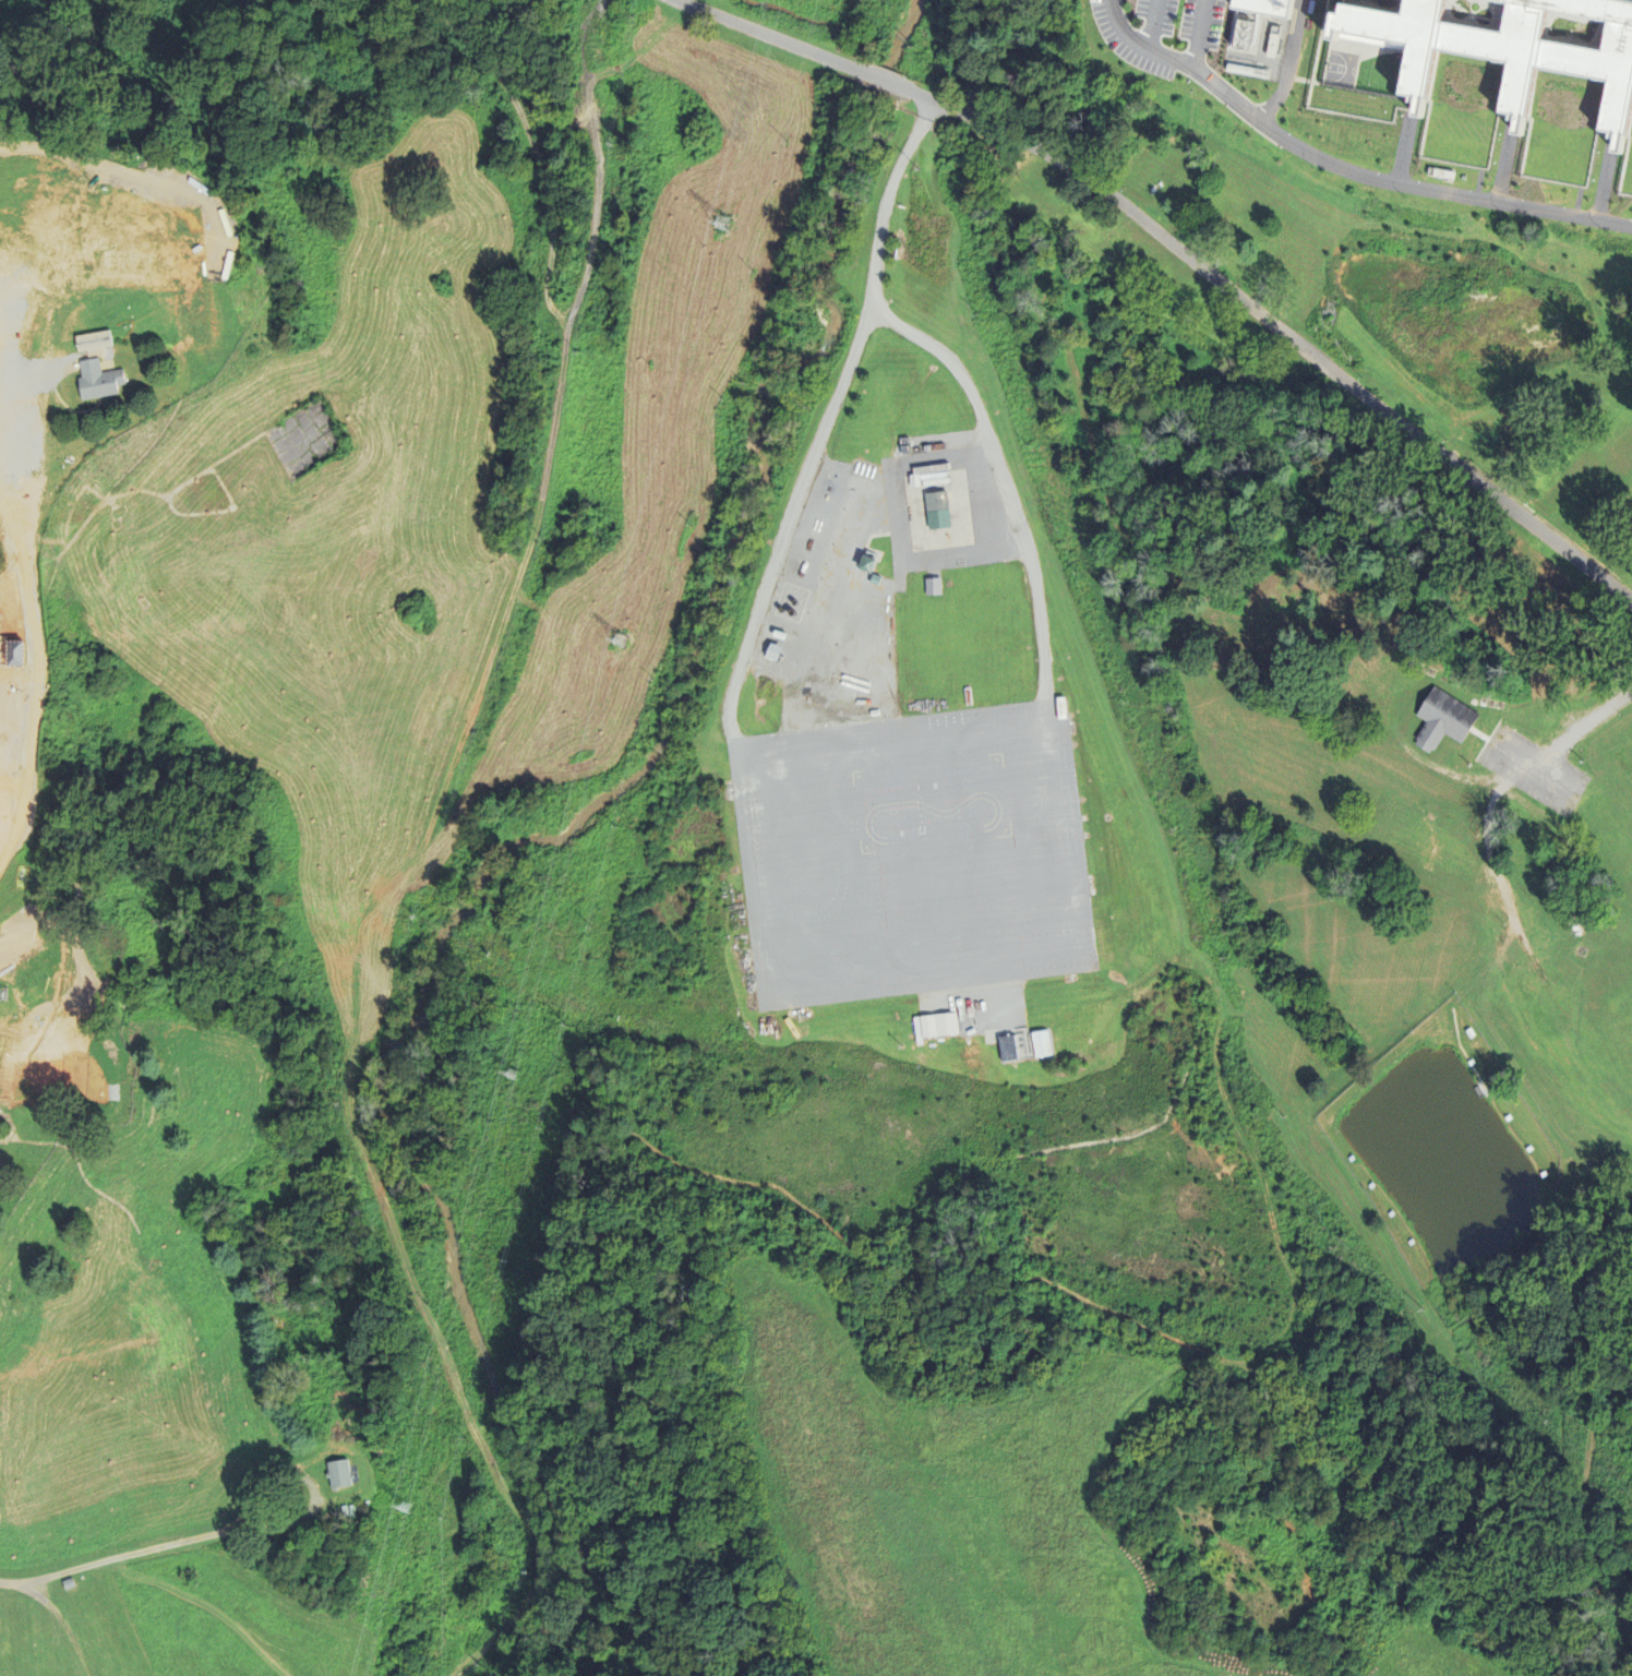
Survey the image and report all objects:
building: (1298, 3)
building: (1267, 7)
road: (1153, 24)
parking lot: (1162, 34)
road: (1199, 35)
road: (770, 37)
building: (1510, 49)
building: (1114, 58)
road: (885, 82)
building: (1255, 84)
building: (1440, 88)
road: (927, 109)
road: (1341, 169)
building: (1441, 175)
power tower: (717, 224)
building: (116, 259)
road: (548, 308)
road: (1279, 330)
building: (100, 379)
road: (825, 427)
building: (1508, 435)
park: (307, 438)
building: (857, 468)
storage tank: (857, 468)
building: (864, 470)
storage tank: (864, 470)
building: (869, 471)
storage tank: (869, 471)
building: (874, 474)
storage tank: (874, 474)
road: (1003, 474)
building: (1593, 498)
building: (938, 511)
building: (860, 564)
building: (867, 564)
building: (876, 580)
building: (780, 635)
power tower: (617, 643)
building: (10, 649)
building: (773, 653)
building: (1058, 708)
building: (47, 711)
building: (1444, 719)
river: (547, 841)
road: (1476, 930)
building: (939, 1026)
building: (46, 1042)
building: (1042, 1045)
building: (2, 1050)
building: (1008, 1050)
power tower: (504, 1072)
road: (891, 1213)
building: (329, 1473)
building: (341, 1473)
road: (312, 1486)
road: (1592, 1501)
building: (365, 1506)
power tower: (396, 1506)
road: (109, 1558)
building: (71, 1582)

